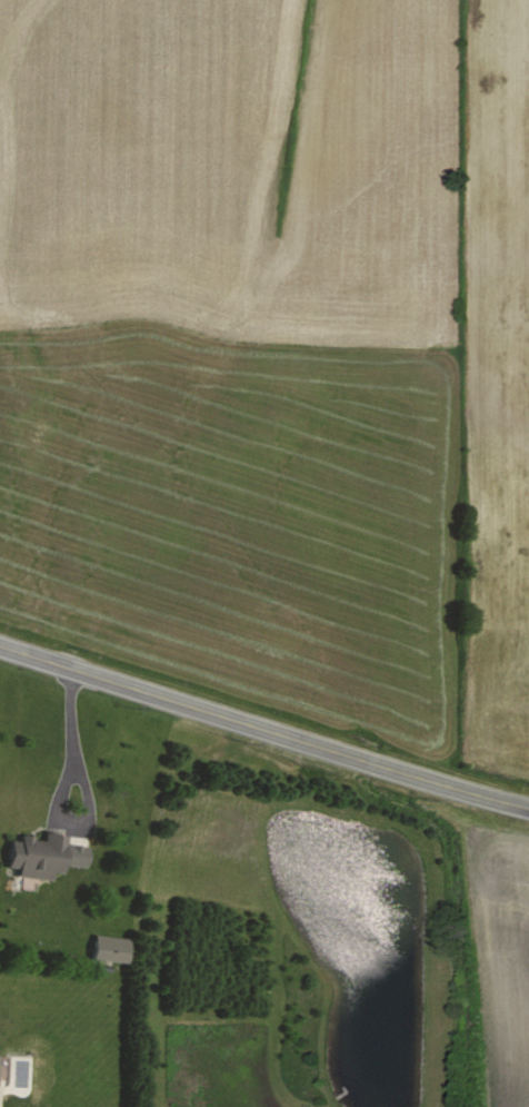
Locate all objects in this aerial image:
road: (263, 729)
road: (60, 780)
building: (46, 856)
building: (112, 949)

